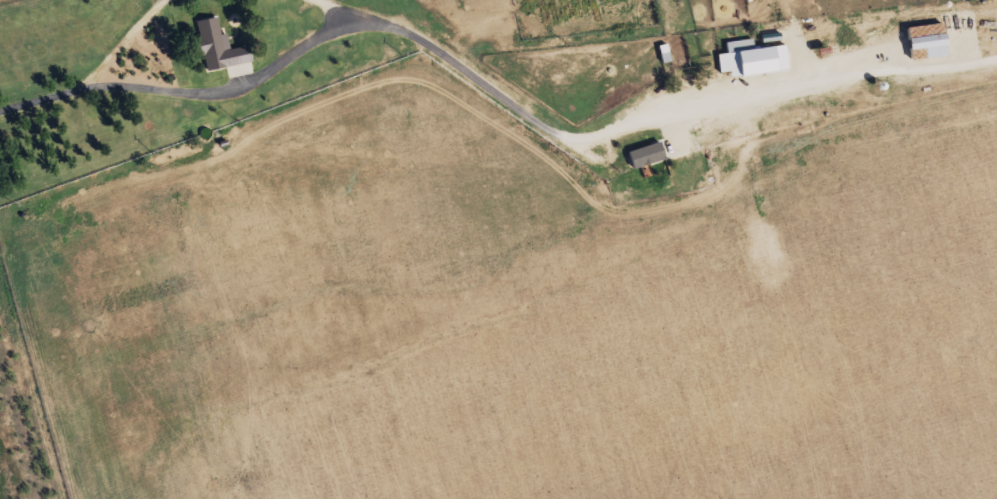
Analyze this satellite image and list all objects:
building: (930, 40)
building: (222, 50)
building: (754, 60)
building: (647, 155)

